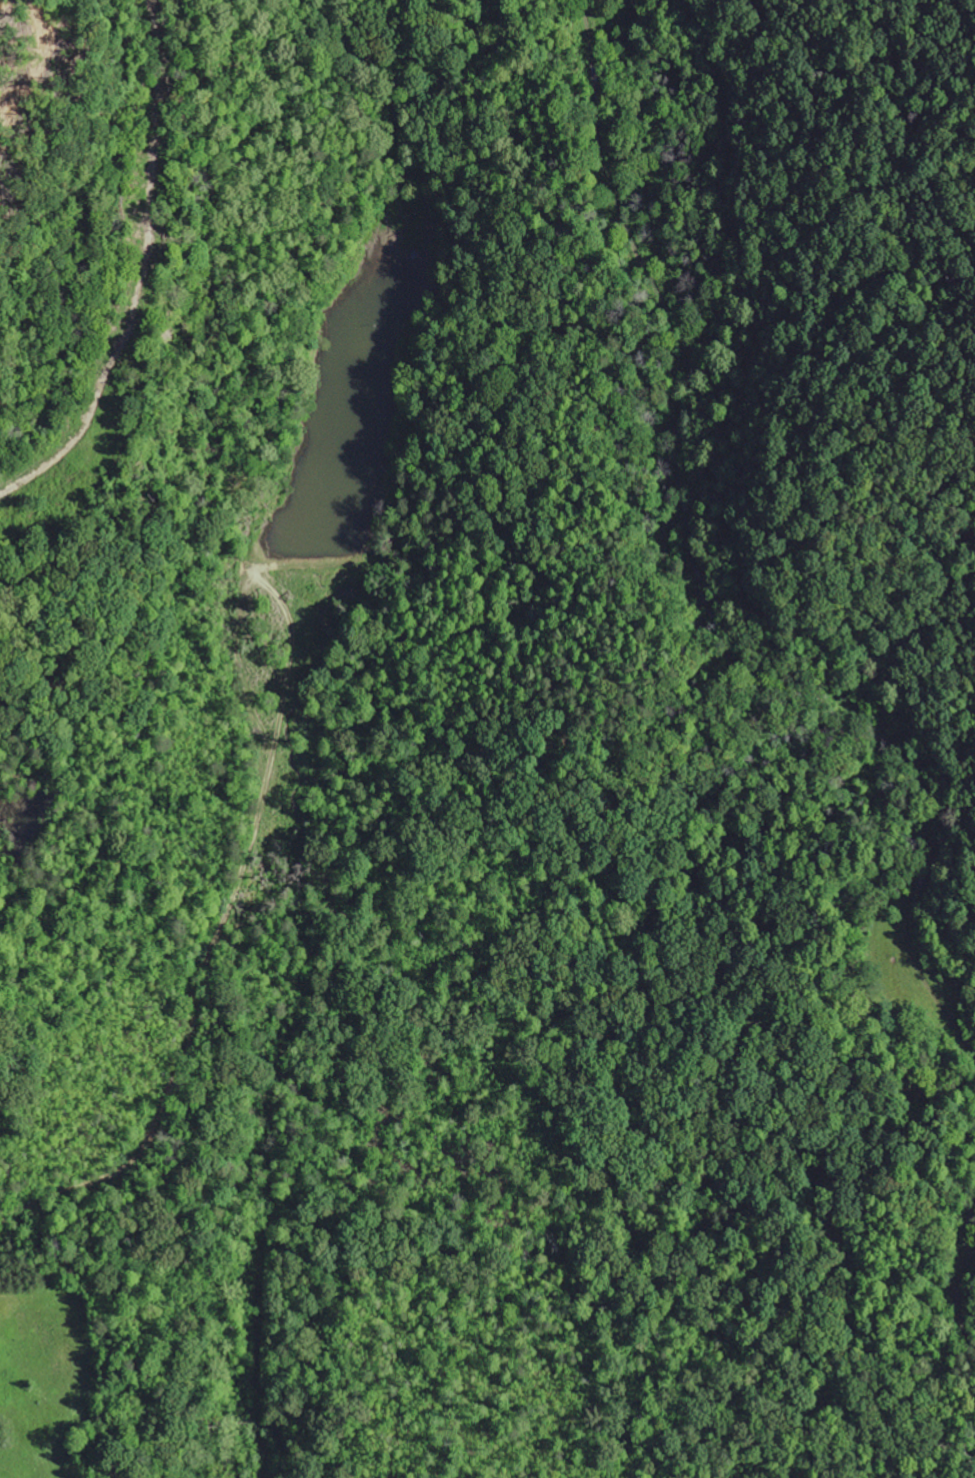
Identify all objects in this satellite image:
road: (199, 992)

